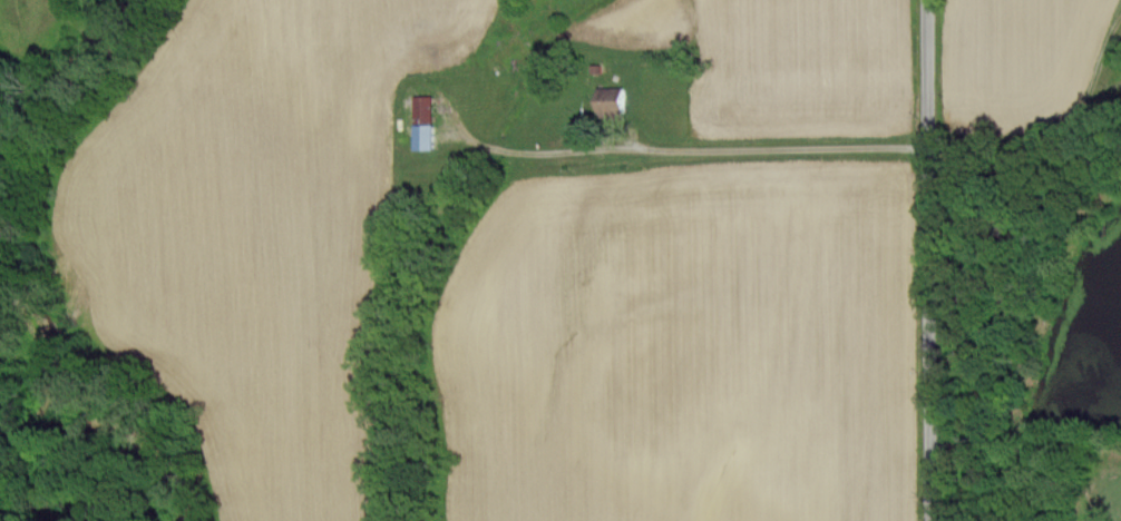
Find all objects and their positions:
building: (607, 98)
building: (420, 120)
road: (773, 142)
road: (1061, 144)
road: (923, 260)
crop: (694, 341)

